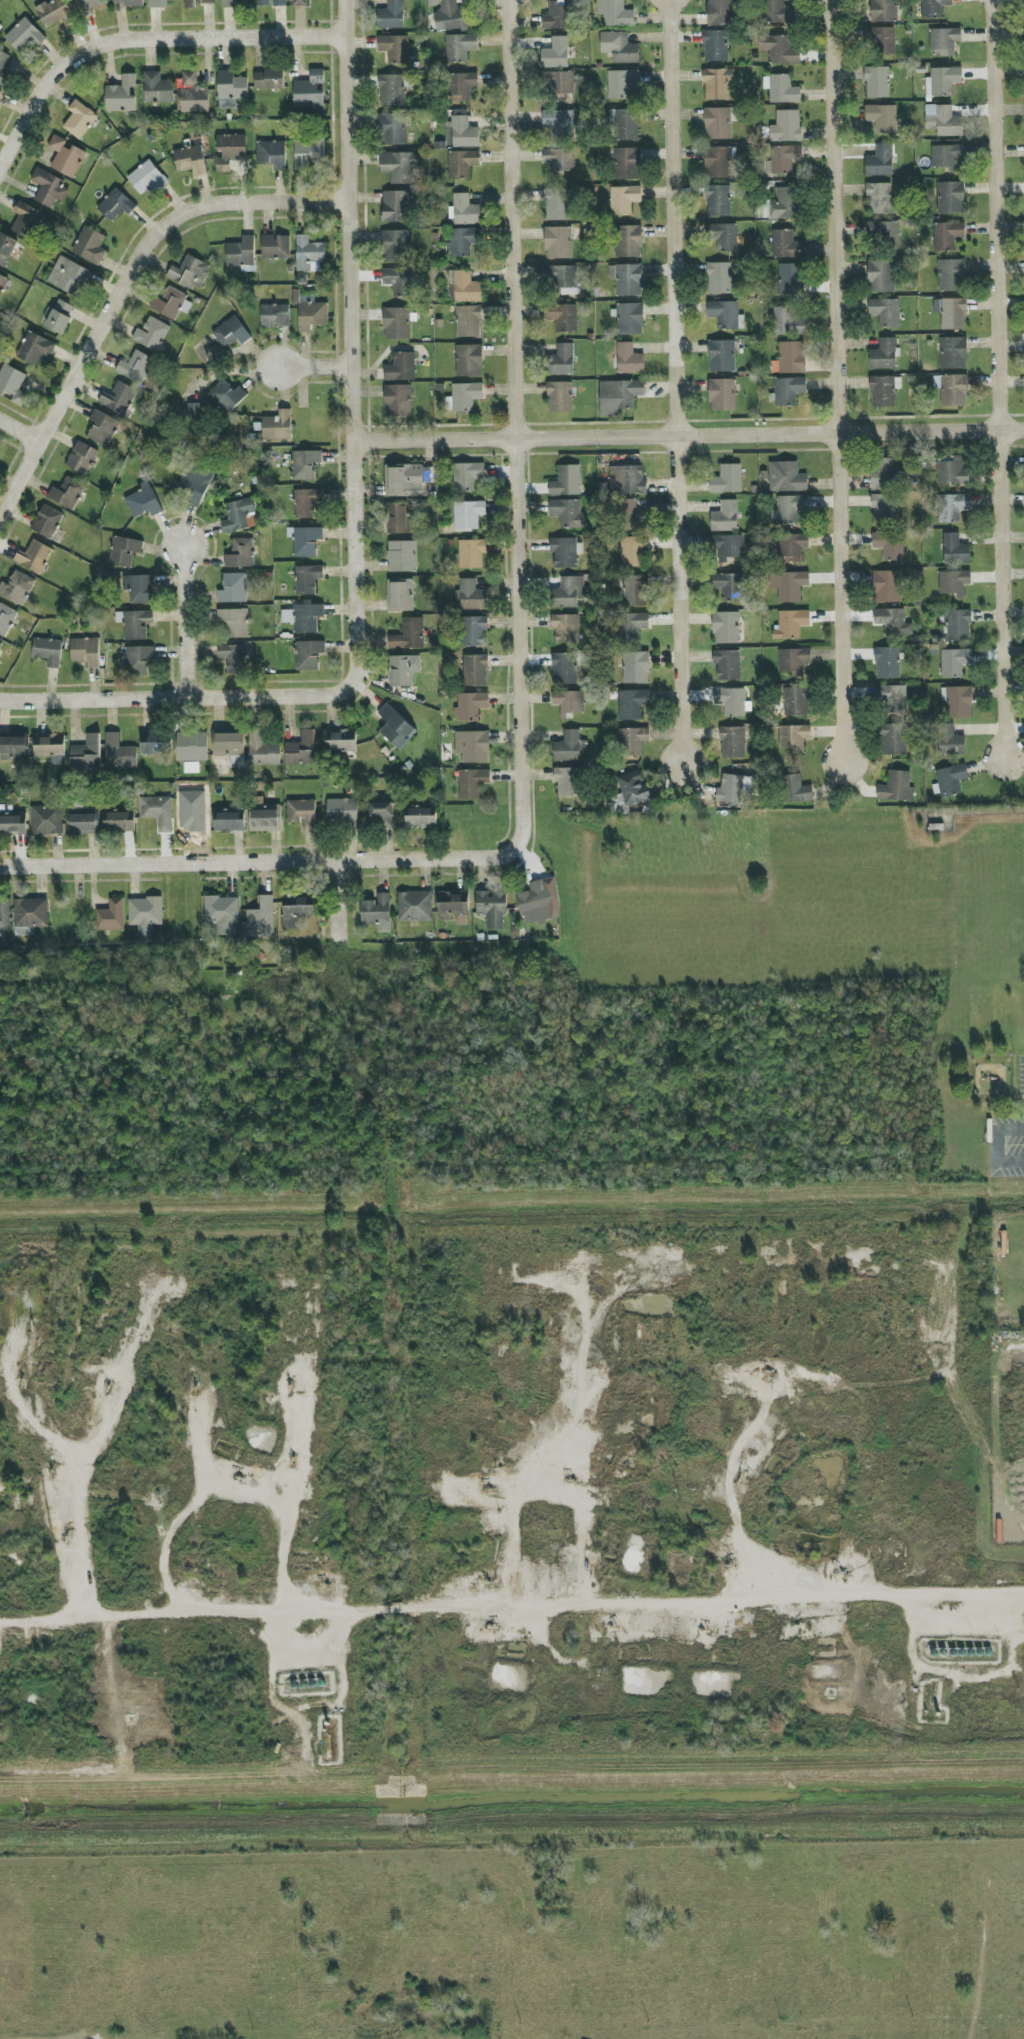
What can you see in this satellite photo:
building: (209, 1)
building: (129, 3)
building: (159, 3)
building: (229, 3)
building: (263, 3)
building: (280, 3)
building: (300, 3)
building: (190, 4)
building: (89, 6)
building: (934, 8)
building: (773, 11)
building: (884, 11)
building: (53, 13)
building: (615, 13)
building: (720, 13)
building: (391, 16)
building: (556, 16)
building: (451, 17)
building: (24, 35)
building: (881, 40)
building: (945, 41)
road: (141, 43)
building: (716, 46)
building: (460, 47)
building: (619, 47)
building: (396, 48)
building: (780, 49)
building: (556, 54)
building: (4, 64)
building: (269, 80)
building: (877, 82)
building: (558, 83)
building: (622, 84)
building: (718, 84)
building: (232, 86)
building: (461, 86)
building: (157, 88)
building: (393, 89)
building: (781, 89)
building: (310, 91)
building: (0, 93)
building: (121, 95)
building: (193, 95)
building: (0, 103)
building: (882, 118)
building: (79, 120)
building: (557, 121)
building: (943, 121)
building: (718, 124)
building: (625, 125)
building: (786, 127)
building: (393, 129)
building: (461, 131)
building: (230, 151)
building: (308, 153)
building: (272, 154)
building: (947, 156)
building: (66, 157)
building: (191, 160)
building: (560, 160)
building: (783, 160)
building: (718, 162)
building: (880, 162)
building: (462, 164)
building: (627, 164)
building: (399, 167)
building: (147, 178)
building: (49, 188)
building: (951, 198)
building: (624, 199)
building: (879, 199)
building: (718, 201)
building: (784, 204)
building: (116, 205)
building: (556, 205)
building: (395, 207)
building: (465, 210)
building: (26, 220)
building: (885, 235)
building: (948, 236)
building: (725, 238)
building: (462, 241)
building: (628, 242)
building: (558, 243)
building: (786, 245)
building: (90, 246)
building: (395, 246)
building: (276, 247)
building: (6, 249)
building: (309, 253)
building: (242, 254)
building: (190, 273)
building: (69, 275)
building: (952, 275)
building: (881, 276)
building: (720, 278)
building: (562, 279)
building: (627, 279)
building: (790, 280)
building: (399, 281)
building: (3, 283)
building: (464, 287)
road: (124, 292)
building: (171, 303)
building: (886, 312)
building: (952, 313)
building: (725, 314)
building: (60, 316)
building: (275, 316)
building: (563, 317)
building: (629, 319)
building: (469, 321)
building: (787, 322)
building: (397, 324)
building: (231, 333)
building: (151, 334)
building: (36, 349)
building: (953, 353)
building: (884, 355)
building: (722, 356)
building: (790, 358)
building: (629, 359)
building: (469, 360)
building: (561, 360)
building: (136, 367)
building: (401, 367)
road: (354, 368)
road: (316, 369)
road: (998, 379)
road: (674, 382)
road: (836, 384)
building: (13, 385)
building: (952, 390)
building: (789, 391)
building: (883, 392)
building: (722, 395)
building: (227, 396)
building: (619, 396)
building: (464, 397)
building: (560, 397)
building: (120, 400)
building: (398, 401)
building: (192, 413)
building: (278, 426)
building: (102, 428)
road: (514, 428)
road: (22, 430)
road: (690, 437)
building: (82, 458)
building: (305, 465)
building: (952, 472)
building: (884, 474)
building: (467, 476)
building: (786, 477)
building: (408, 480)
building: (627, 480)
building: (727, 480)
building: (566, 481)
building: (195, 483)
building: (68, 493)
building: (143, 502)
building: (307, 504)
building: (952, 507)
building: (790, 509)
building: (884, 509)
building: (568, 513)
building: (468, 514)
building: (238, 515)
building: (632, 516)
building: (725, 517)
building: (398, 518)
building: (47, 522)
building: (306, 542)
building: (889, 545)
building: (728, 547)
building: (791, 547)
building: (956, 550)
building: (125, 551)
building: (565, 552)
building: (633, 552)
building: (472, 553)
building: (241, 554)
building: (402, 556)
building: (34, 557)
building: (308, 579)
building: (954, 583)
building: (729, 586)
building: (789, 586)
building: (887, 587)
building: (17, 588)
building: (139, 589)
building: (233, 589)
building: (635, 591)
building: (568, 594)
building: (401, 595)
building: (471, 596)
building: (304, 617)
building: (6, 619)
building: (893, 622)
road: (183, 623)
building: (234, 623)
building: (135, 624)
building: (791, 624)
building: (632, 626)
building: (958, 626)
building: (566, 628)
building: (726, 628)
building: (473, 631)
building: (409, 635)
building: (0, 643)
building: (86, 651)
building: (48, 652)
building: (309, 655)
building: (235, 658)
building: (138, 660)
building: (794, 660)
building: (955, 662)
building: (887, 663)
building: (727, 665)
building: (636, 668)
building: (566, 669)
building: (404, 670)
building: (475, 670)
road: (155, 699)
building: (891, 699)
building: (733, 701)
building: (796, 701)
building: (569, 702)
building: (958, 702)
building: (632, 704)
building: (471, 706)
building: (396, 727)
building: (794, 737)
building: (341, 740)
building: (893, 740)
building: (950, 740)
building: (632, 741)
building: (732, 742)
building: (157, 747)
building: (473, 747)
building: (570, 747)
building: (14, 748)
building: (51, 748)
building: (192, 750)
building: (302, 750)
building: (263, 751)
building: (87, 753)
building: (120, 753)
building: (951, 780)
building: (568, 782)
building: (472, 783)
building: (633, 788)
building: (896, 788)
building: (734, 790)
building: (795, 790)
building: (342, 811)
building: (158, 812)
building: (302, 814)
building: (383, 814)
building: (421, 818)
building: (267, 819)
building: (46, 820)
building: (12, 822)
building: (120, 822)
building: (230, 822)
building: (83, 824)
road: (255, 866)
road: (341, 900)
building: (539, 902)
building: (415, 906)
building: (453, 907)
building: (492, 909)
building: (297, 911)
building: (378, 913)
building: (145, 914)
building: (5, 915)
building: (223, 915)
building: (30, 916)
building: (112, 916)
building: (260, 920)
road: (676, 1429)
road: (741, 1594)
road: (513, 2007)

